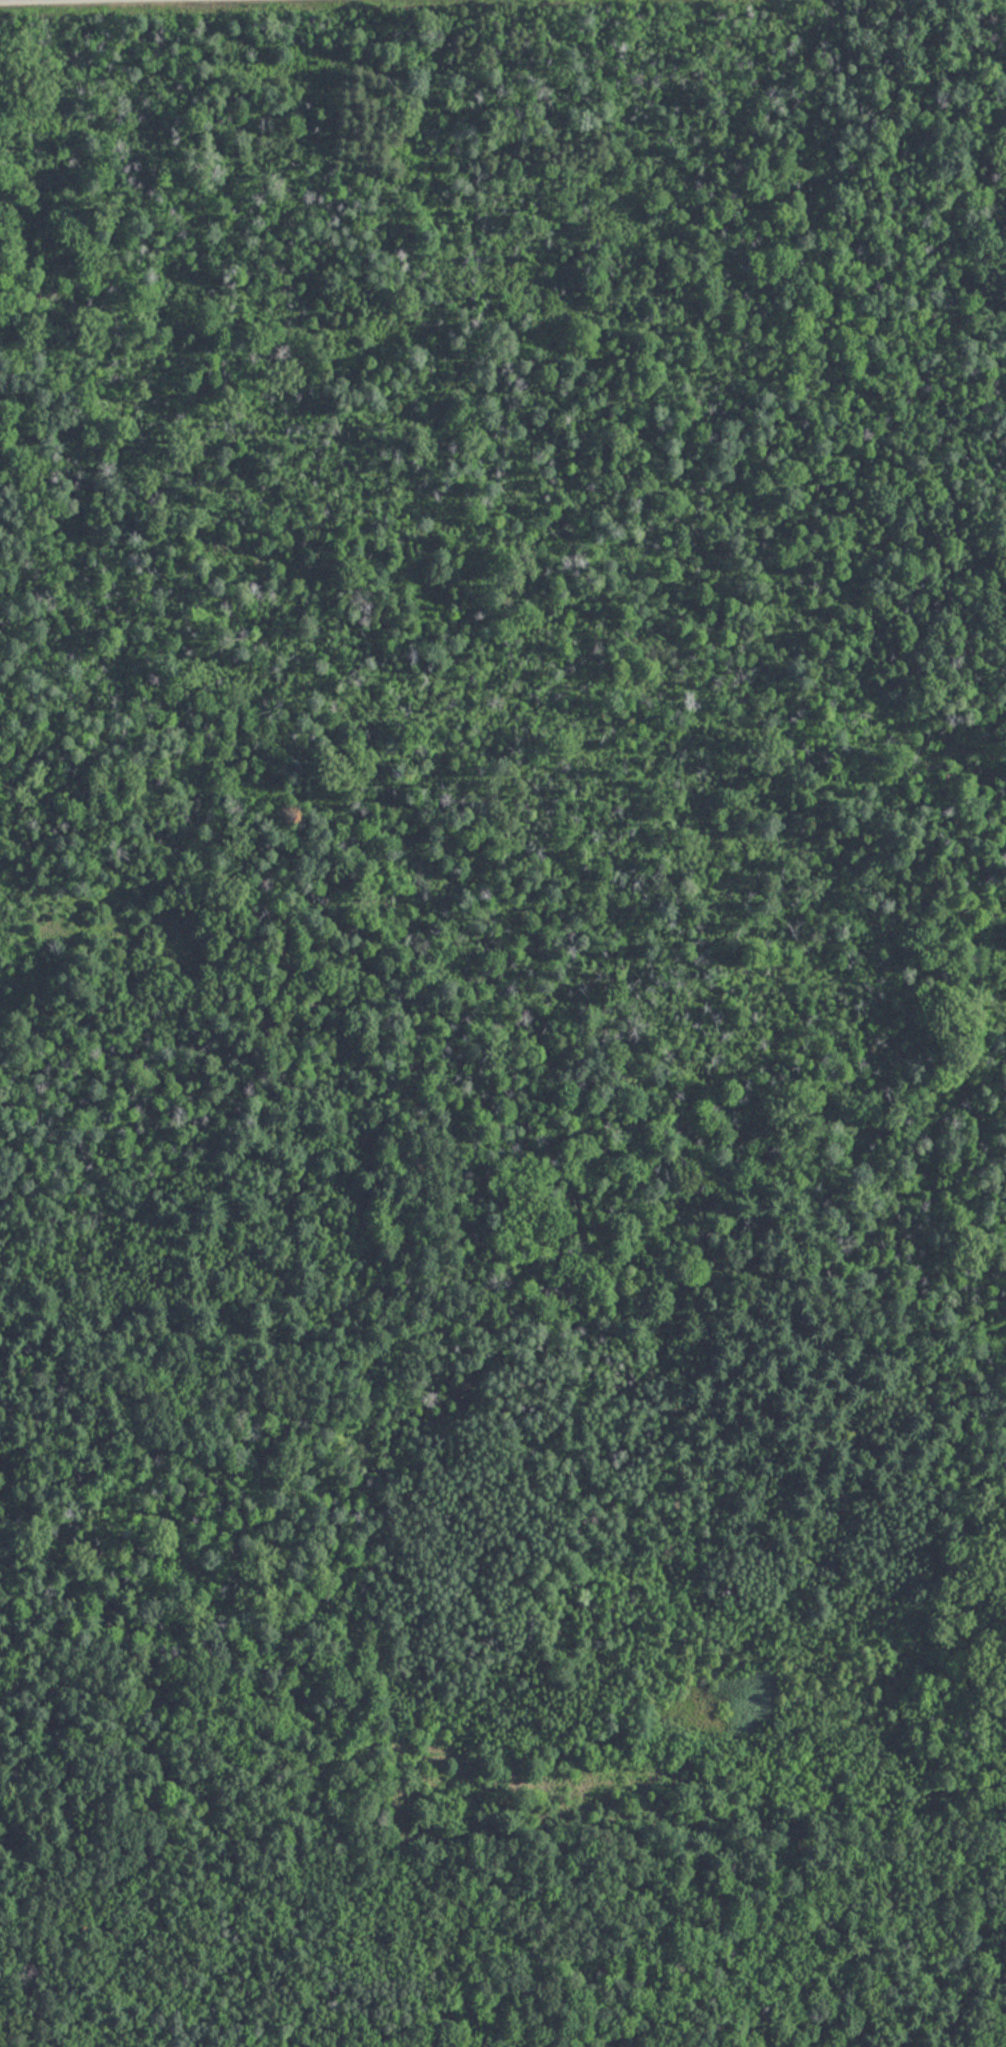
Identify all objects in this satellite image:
park: (503, 1023)

